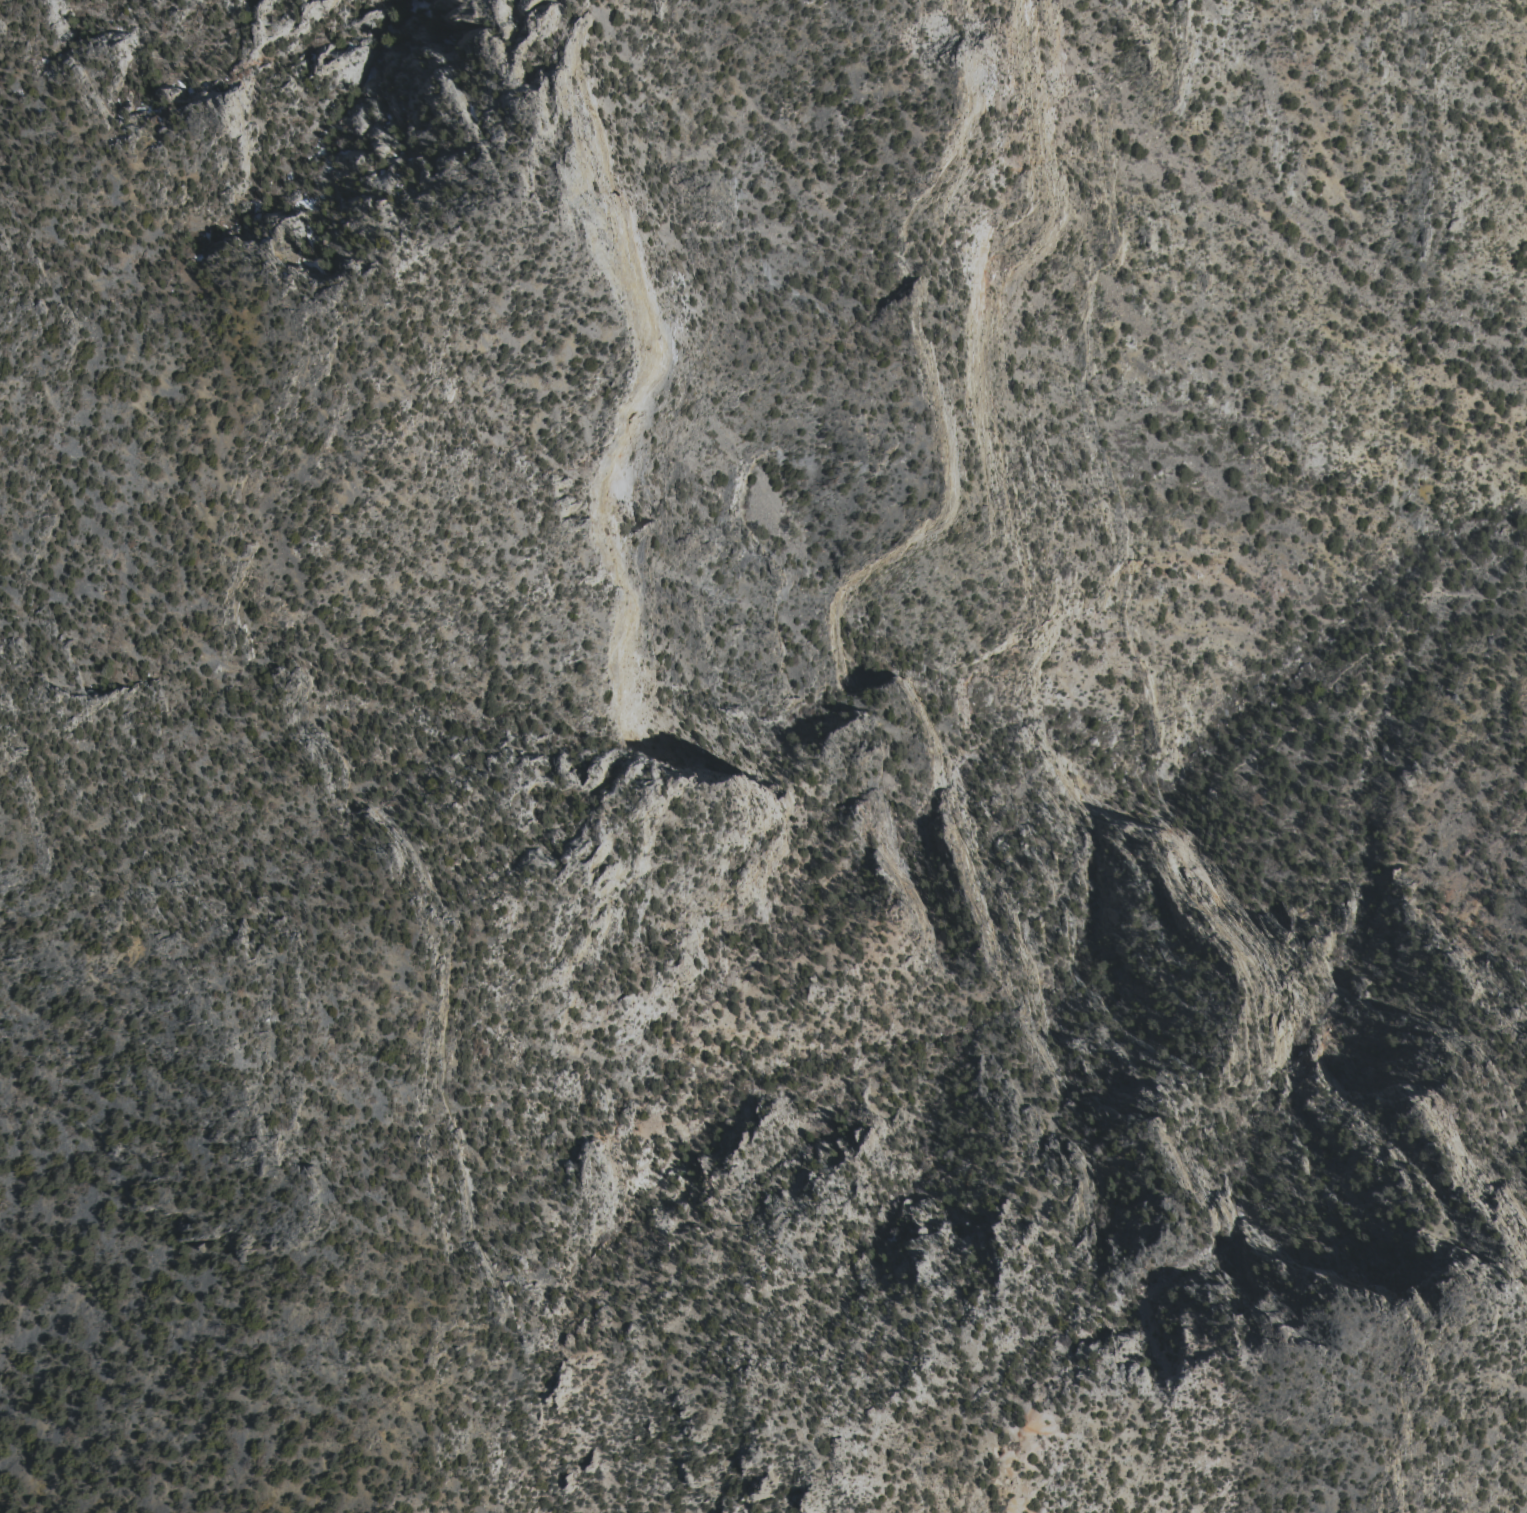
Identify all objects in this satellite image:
road: (1311, 710)

